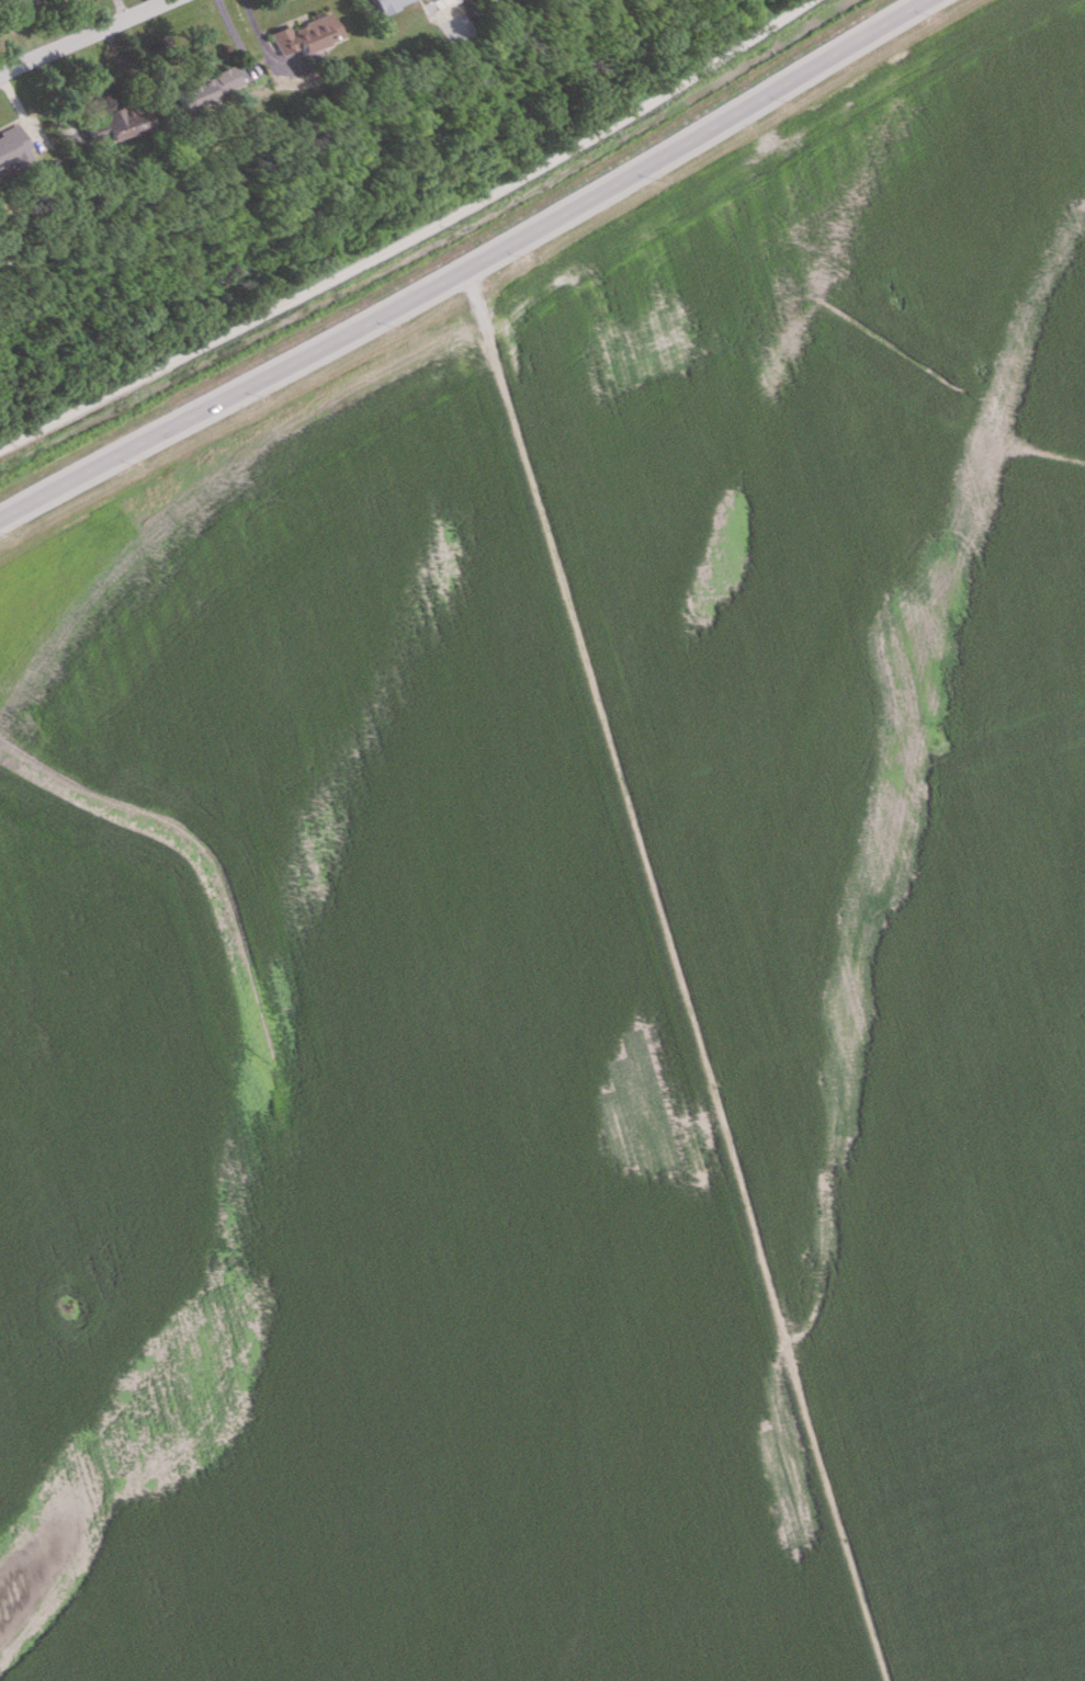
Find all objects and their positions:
building: (381, 3)
road: (235, 35)
road: (84, 36)
road: (259, 41)
road: (411, 238)
road: (467, 269)
road: (870, 516)
crop: (579, 951)
road: (680, 974)

